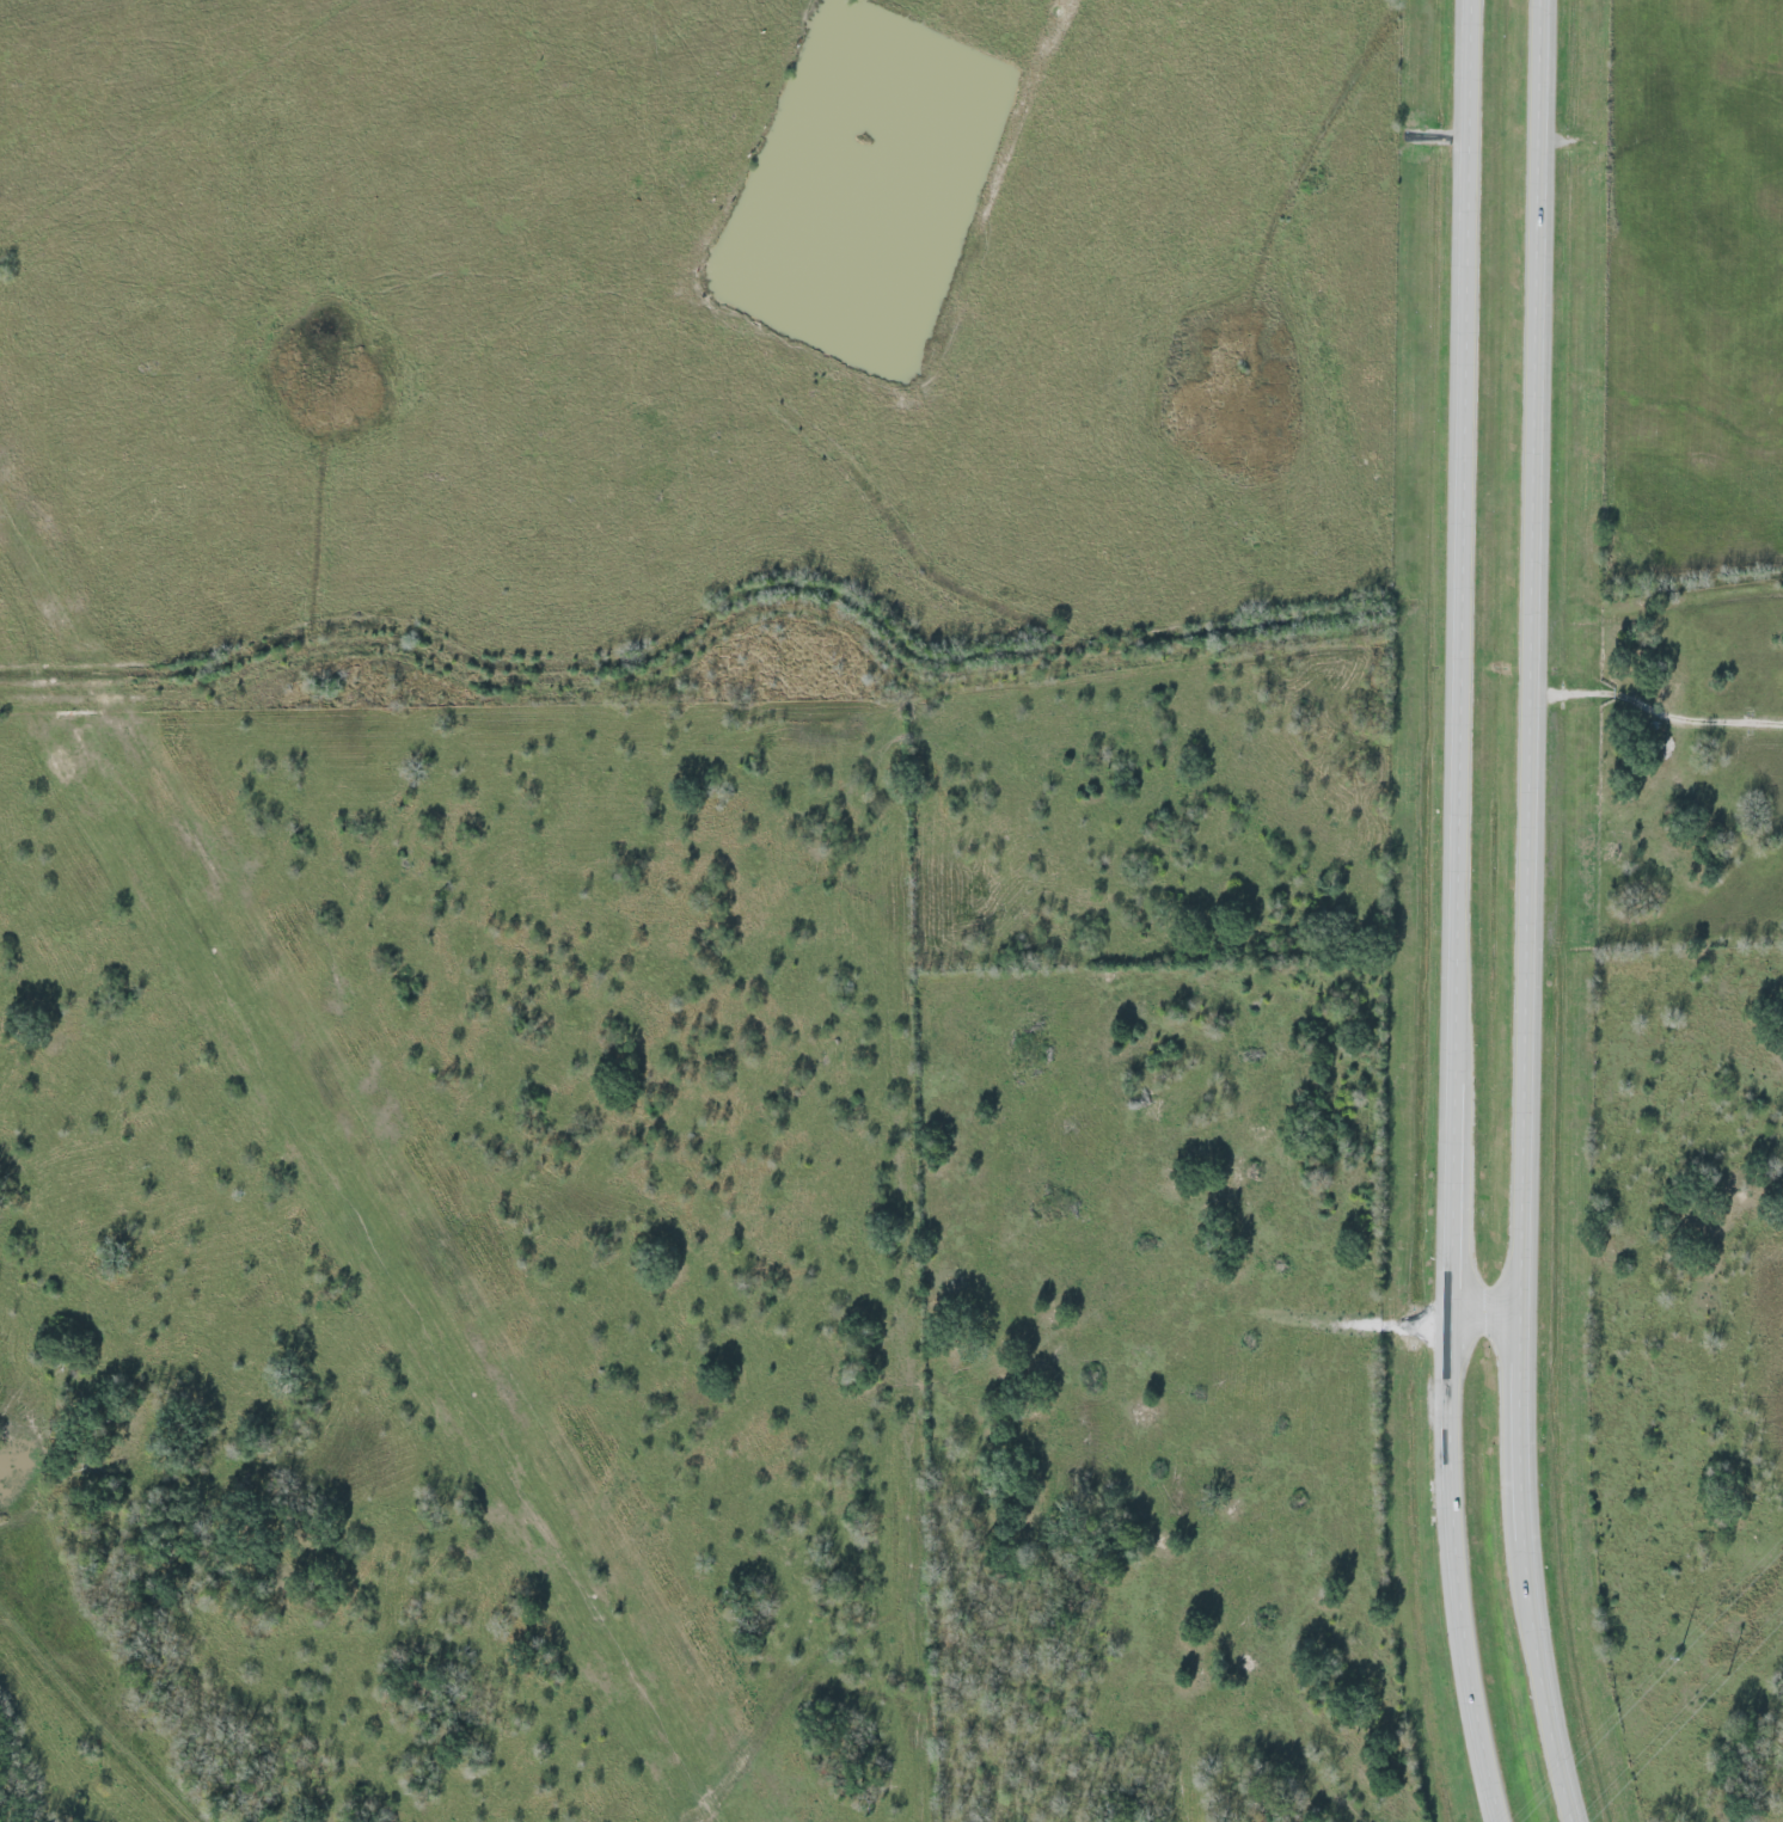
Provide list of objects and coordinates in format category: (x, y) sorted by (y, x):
road: (1656, 712)
road: (1459, 913)
road: (1528, 913)
road: (1488, 1303)
power tower: (1681, 1652)

